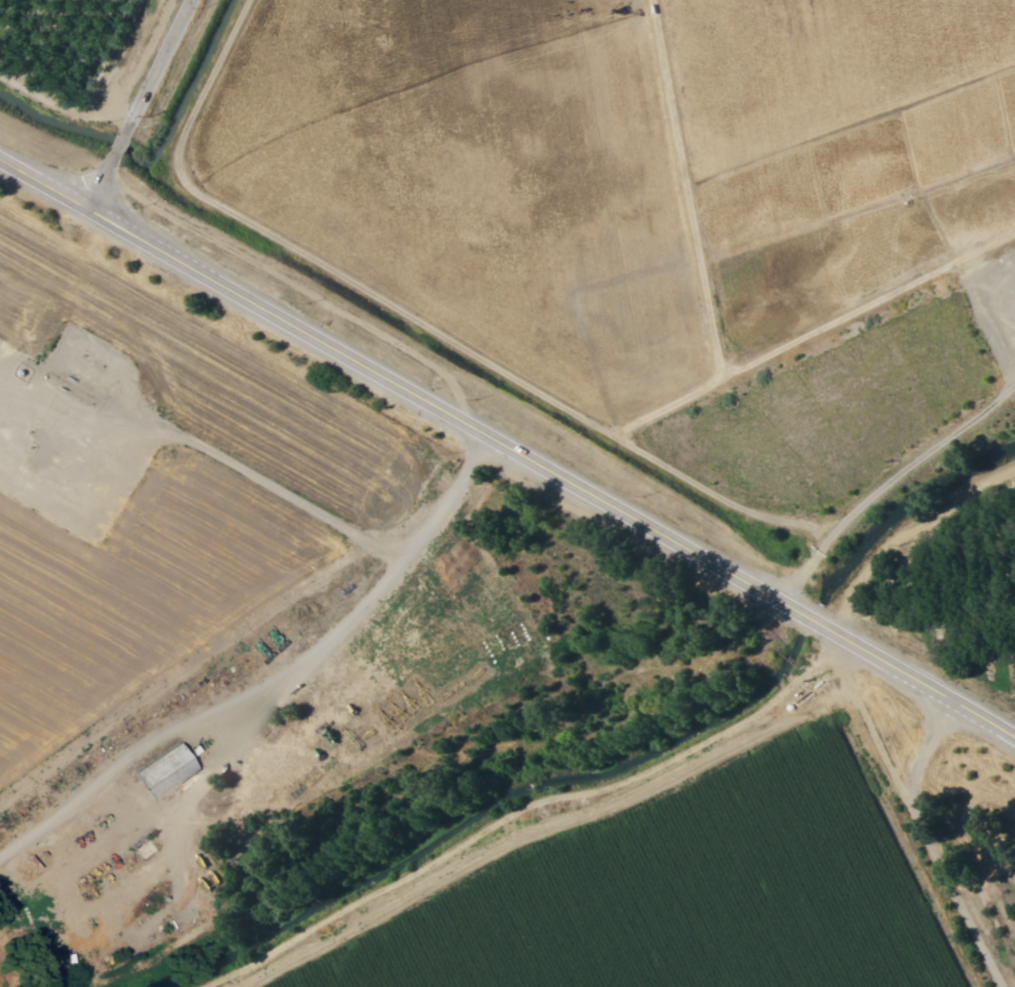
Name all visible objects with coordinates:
road: (144, 105)
road: (940, 442)
road: (507, 446)
road: (821, 547)
road: (270, 710)
building: (165, 771)
road: (935, 845)

